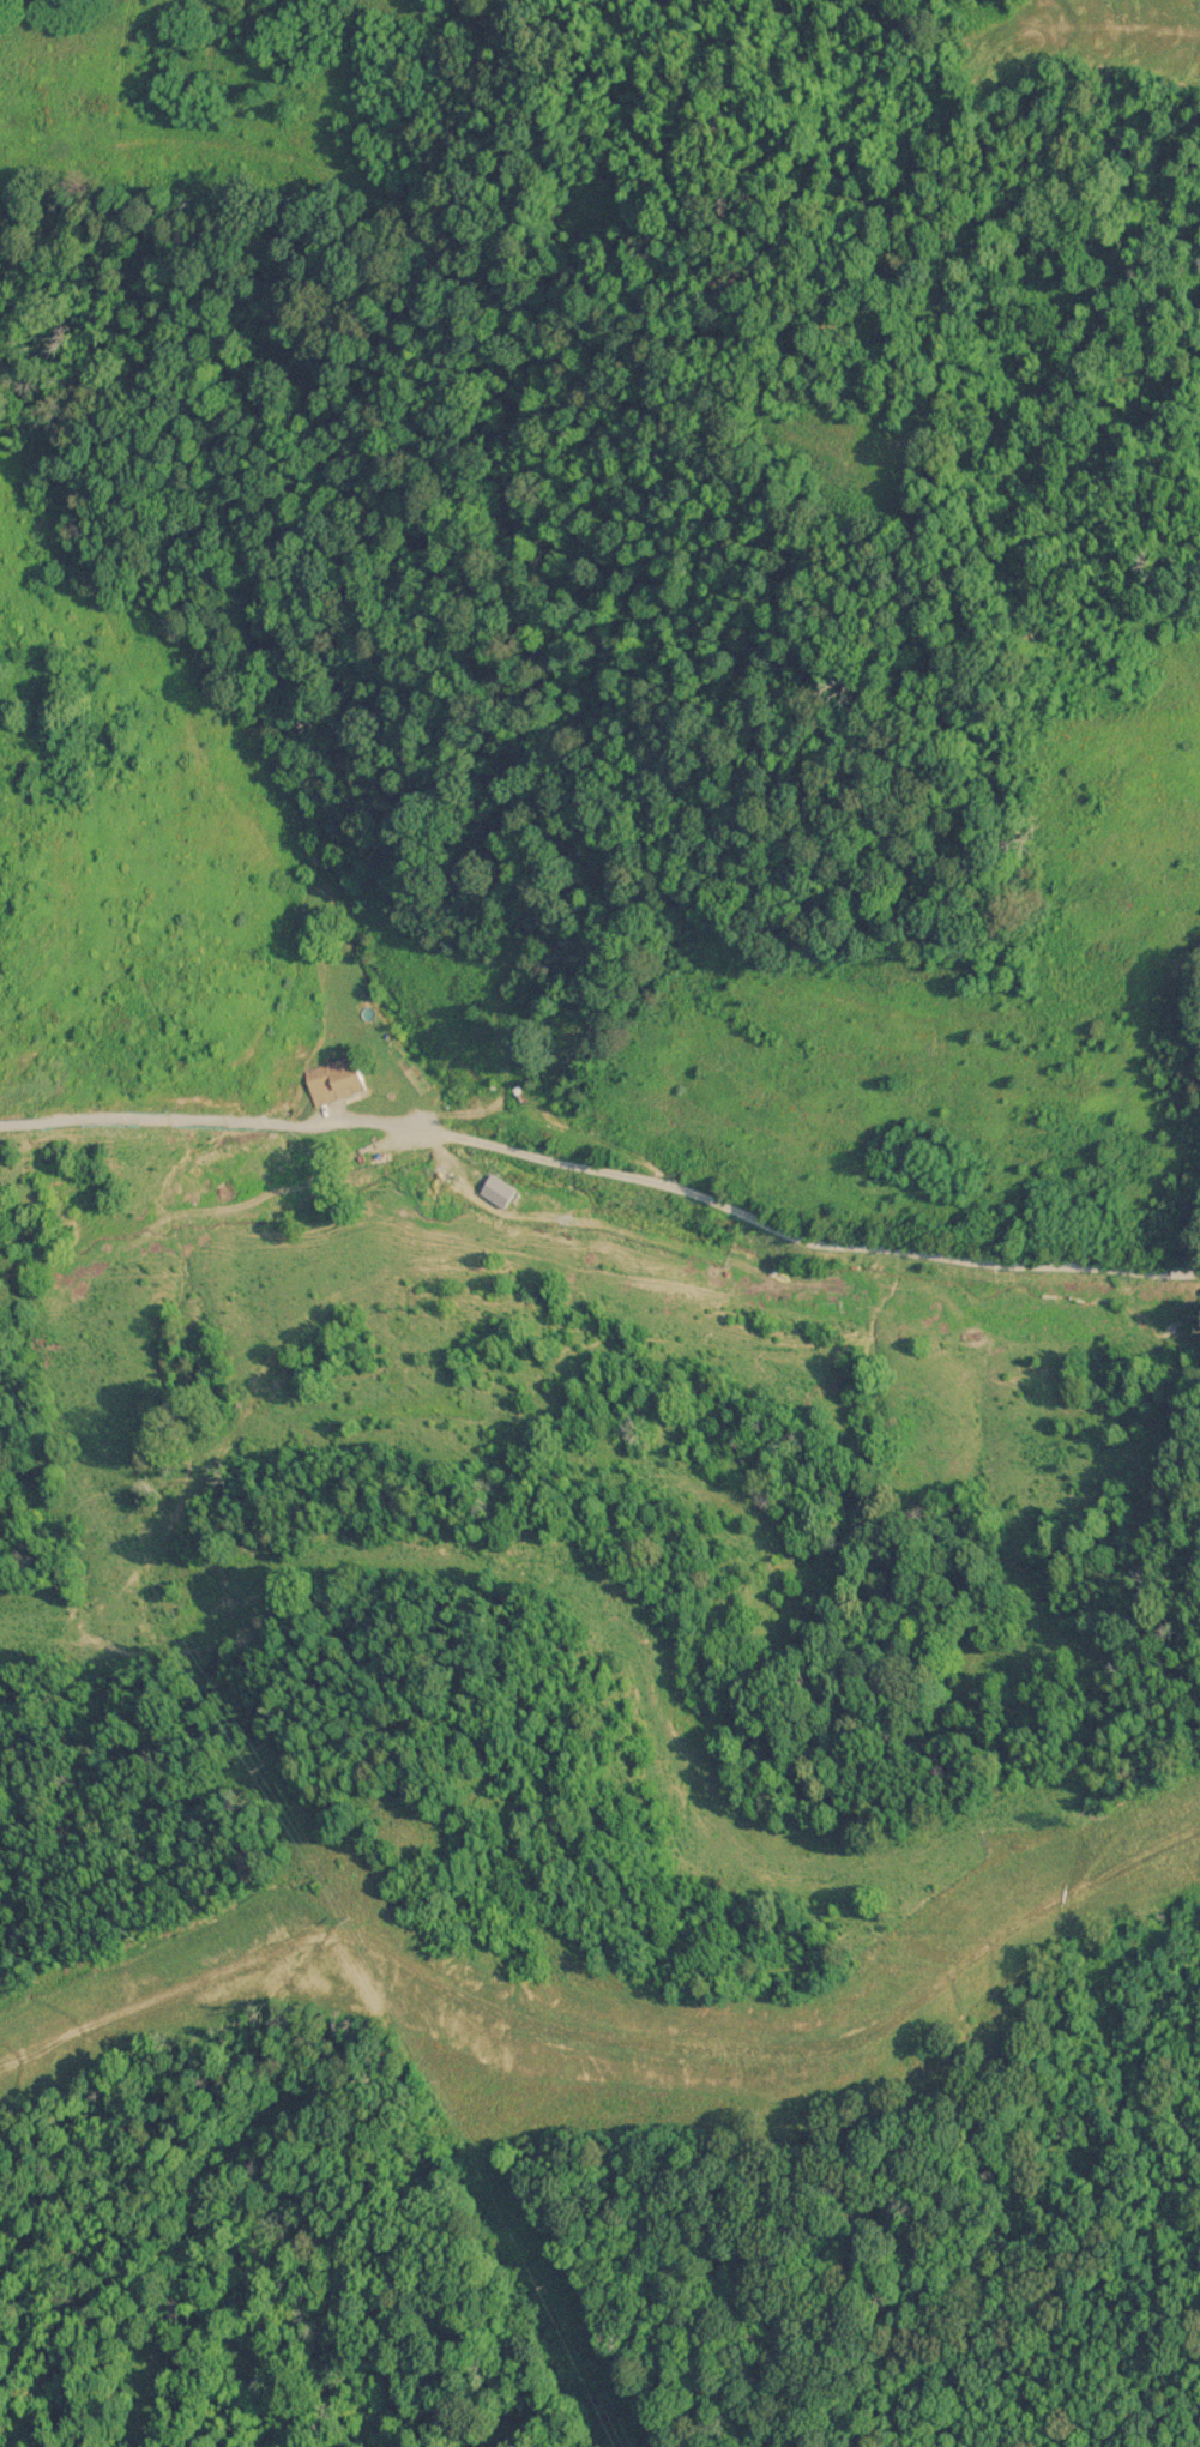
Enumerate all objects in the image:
building: (330, 1078)
building: (370, 1149)
building: (483, 1182)
road: (599, 1206)

